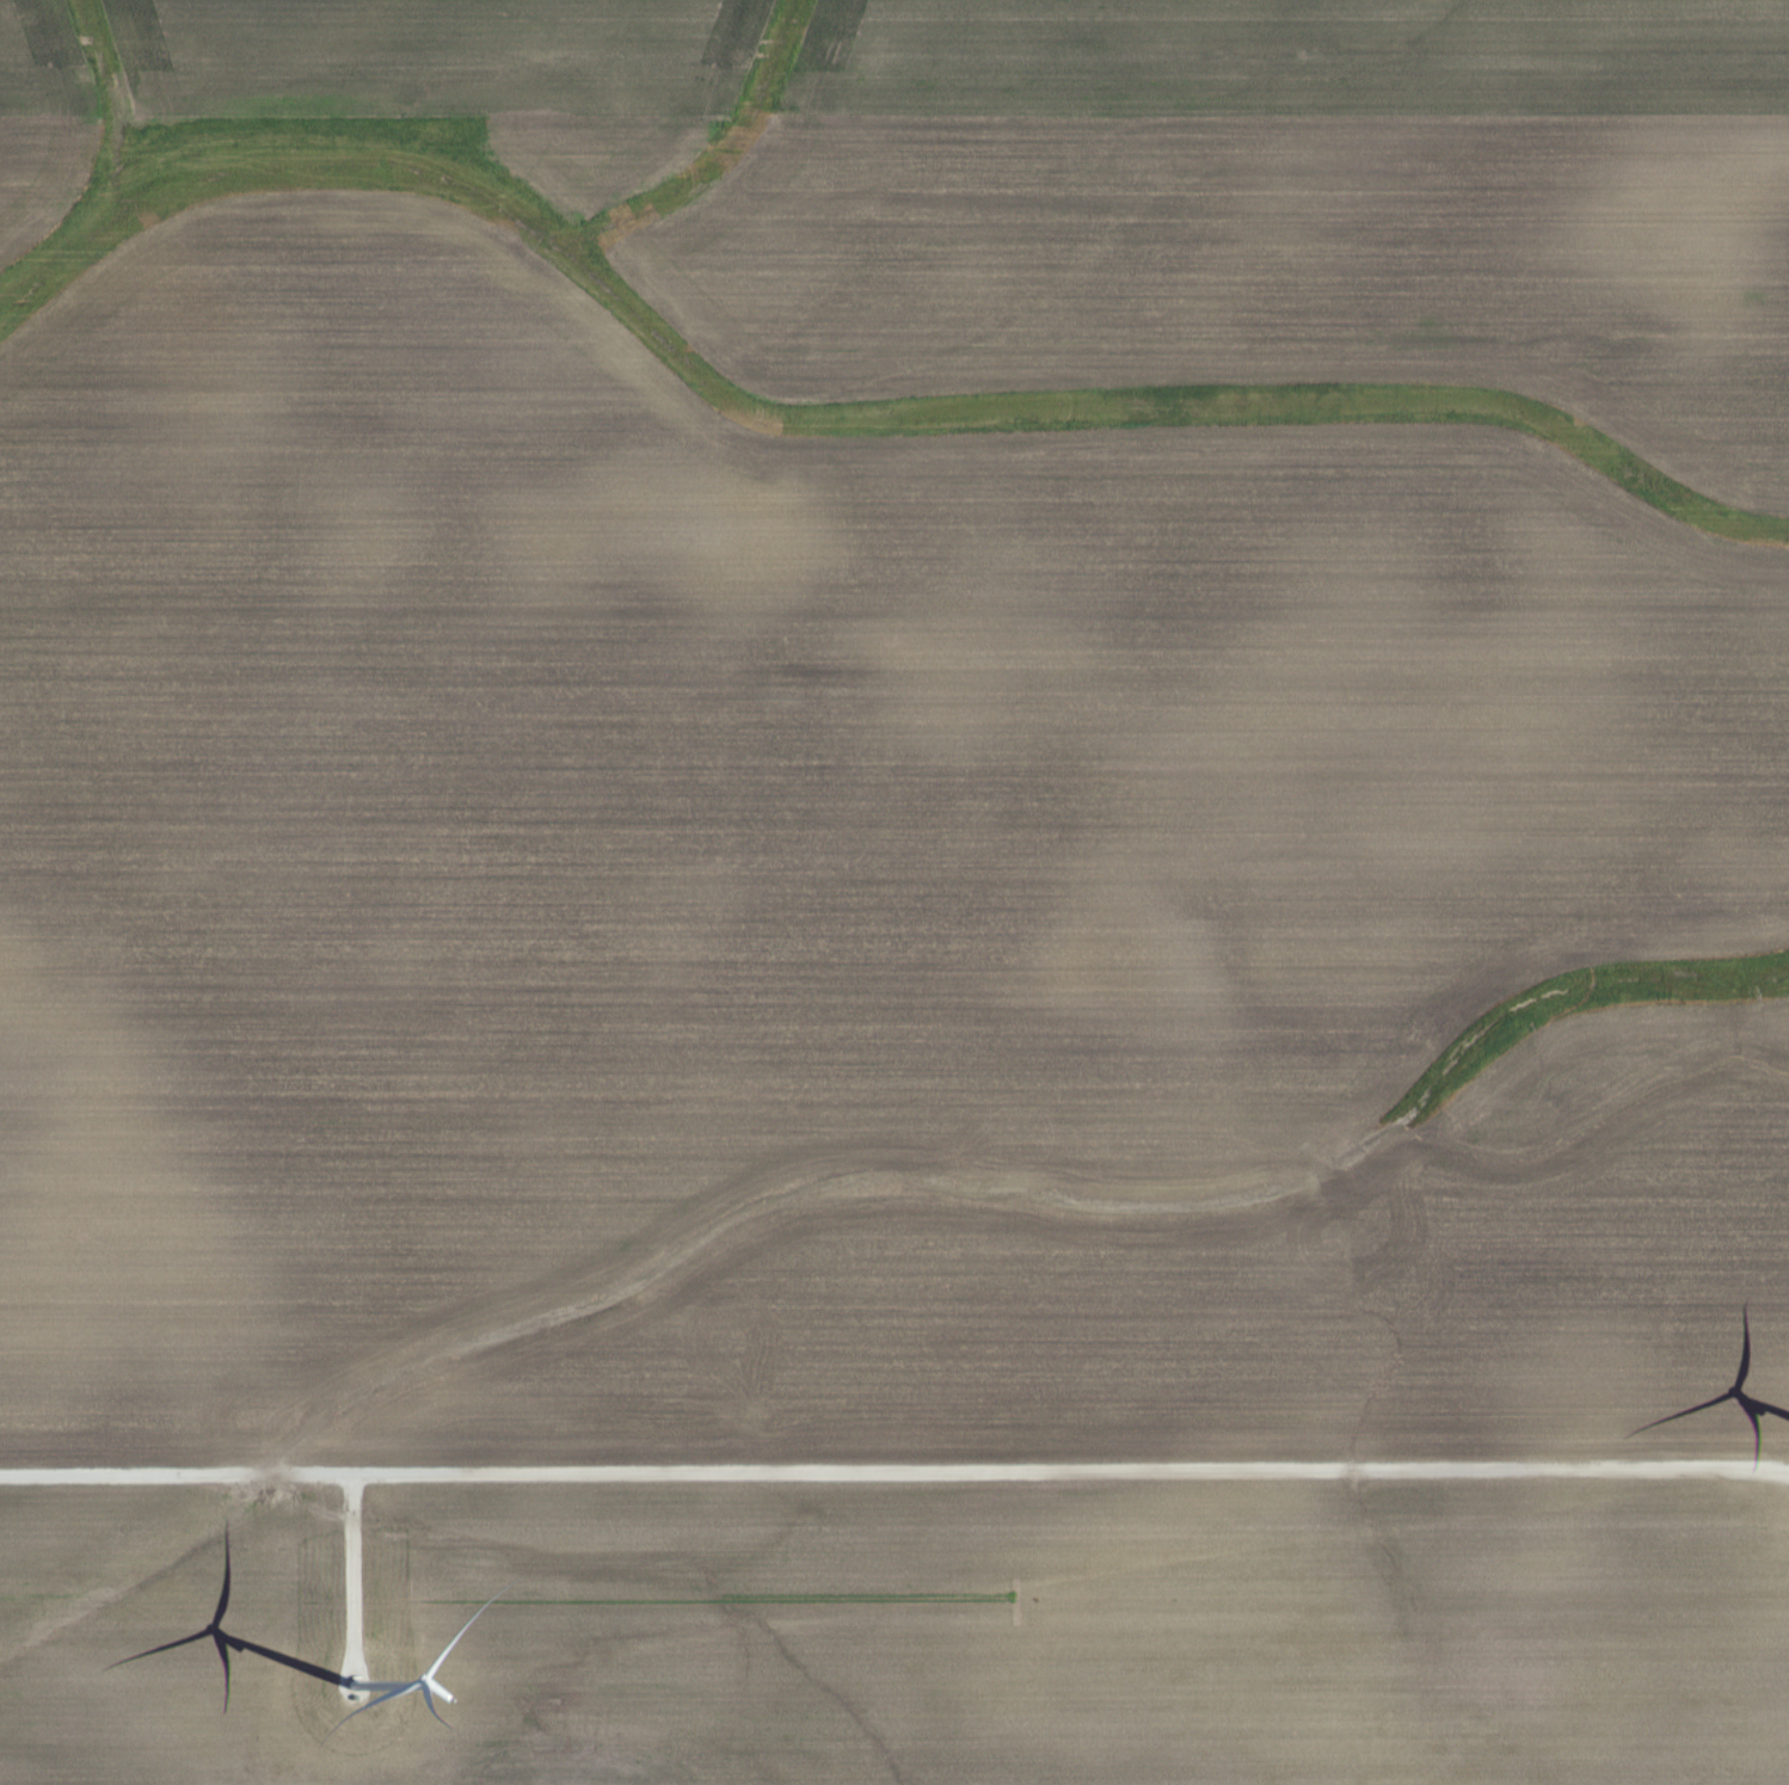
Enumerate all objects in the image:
road: (893, 1469)
wind turbine: (357, 1699)

